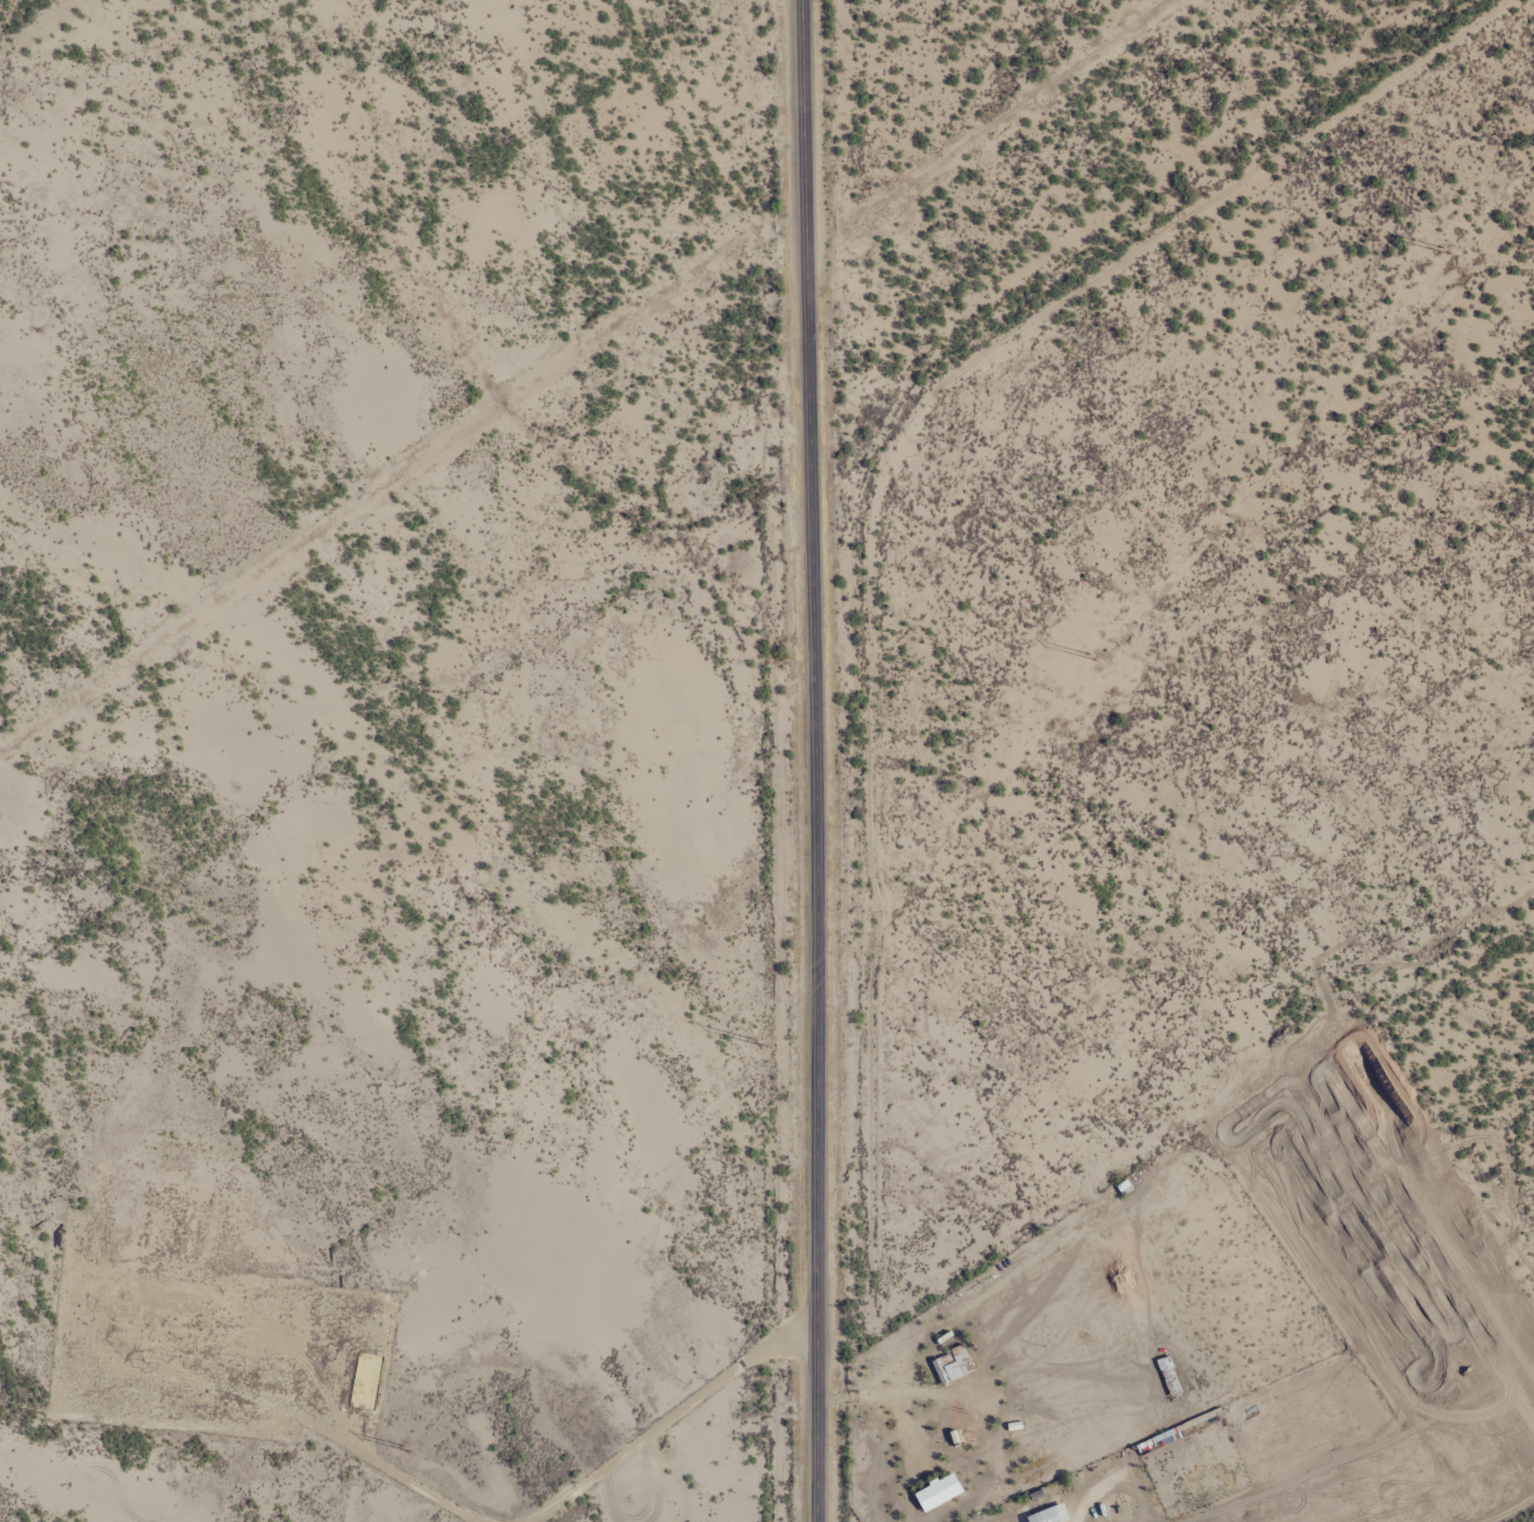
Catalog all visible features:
road: (814, 760)
building: (1047, 1515)

